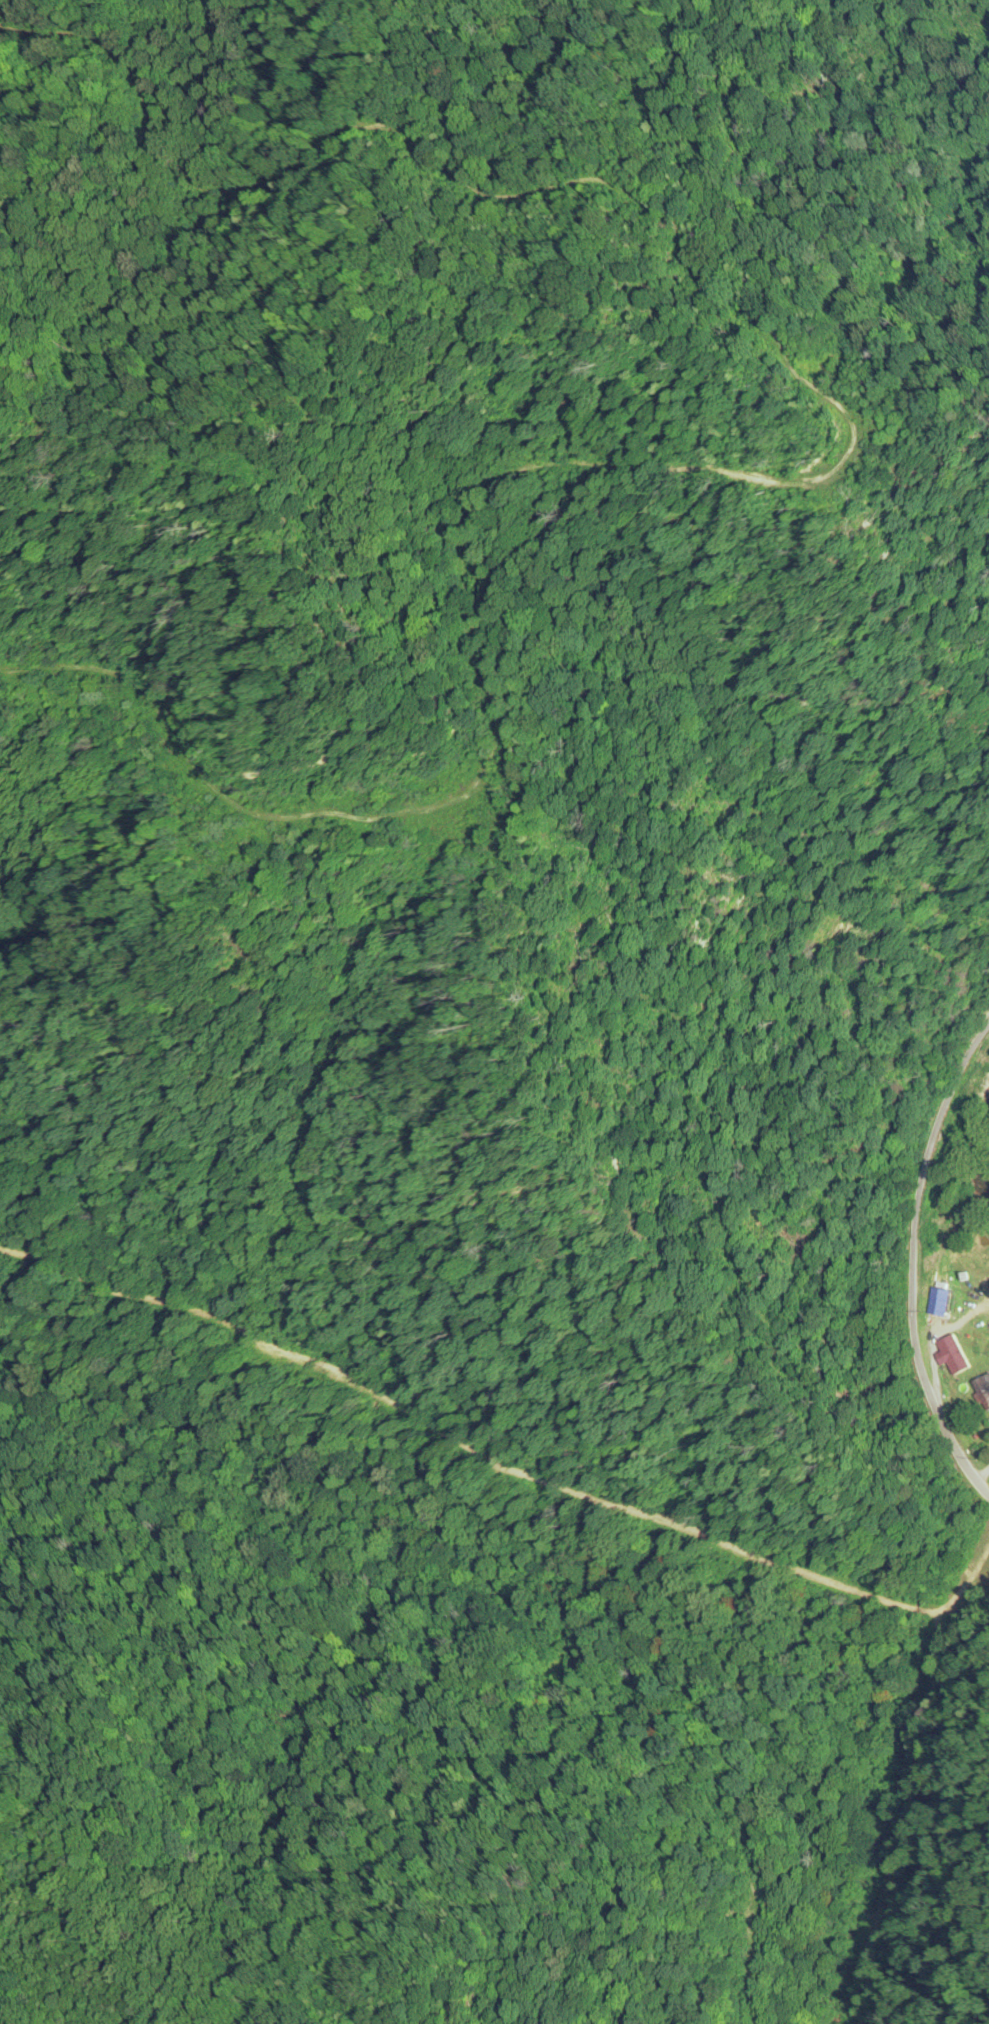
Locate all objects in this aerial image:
road: (909, 1265)
building: (937, 1291)
building: (954, 1355)
building: (983, 1391)

